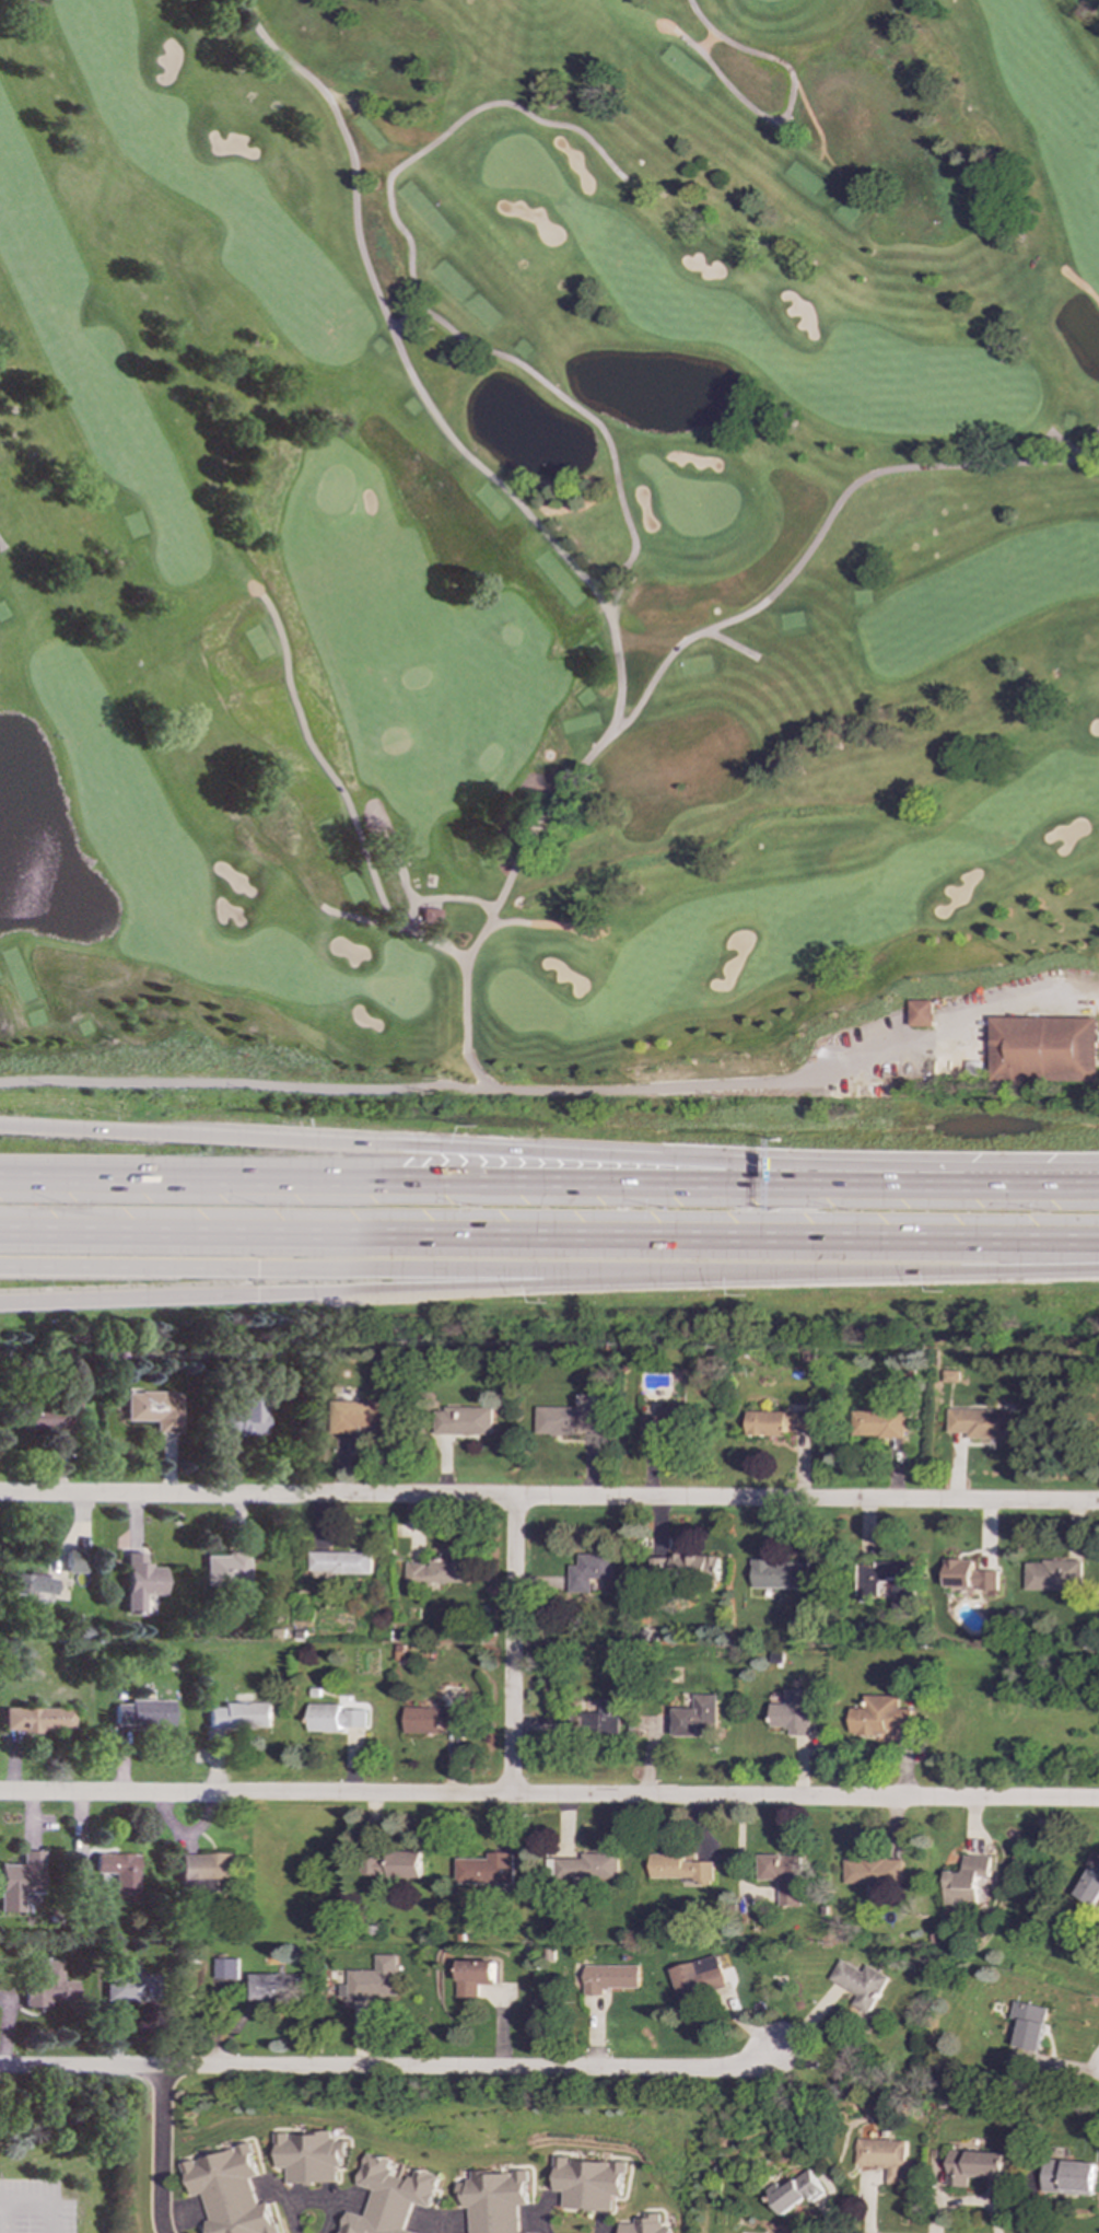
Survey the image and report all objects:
road: (369, 109)
road: (787, 109)
road: (413, 131)
road: (371, 152)
road: (1080, 287)
road: (418, 305)
road: (401, 316)
road: (411, 377)
road: (1064, 445)
road: (1, 543)
park: (549, 550)
road: (605, 577)
road: (647, 642)
road: (732, 644)
road: (671, 653)
road: (321, 758)
road: (402, 871)
road: (442, 896)
road: (335, 909)
building: (430, 914)
road: (536, 923)
building: (924, 1022)
road: (961, 1024)
building: (1048, 1057)
road: (428, 1091)
road: (402, 1150)
road: (402, 1177)
road: (882, 1178)
road: (1029, 1181)
road: (549, 1236)
road: (128, 1265)
traffic signals: (257, 1267)
road: (456, 1268)
road: (877, 1272)
road: (456, 1286)
traffic signals: (257, 1293)
road: (128, 1296)
building: (154, 1409)
building: (243, 1416)
building: (359, 1416)
building: (44, 1418)
building: (570, 1420)
building: (463, 1421)
building: (666, 1421)
building: (776, 1422)
building: (879, 1423)
building: (980, 1423)
road: (549, 1499)
building: (73, 1560)
building: (341, 1563)
building: (685, 1566)
building: (225, 1569)
building: (436, 1571)
building: (588, 1572)
building: (781, 1574)
building: (1051, 1574)
building: (970, 1577)
building: (141, 1581)
building: (28, 1586)
building: (868, 1589)
road: (512, 1647)
building: (143, 1712)
building: (794, 1712)
building: (239, 1716)
building: (698, 1717)
building: (334, 1718)
building: (37, 1719)
building: (603, 1719)
building: (881, 1719)
building: (431, 1720)
road: (549, 1795)
building: (396, 1865)
building: (588, 1868)
building: (486, 1870)
building: (680, 1870)
building: (206, 1872)
building: (119, 1873)
building: (874, 1873)
building: (783, 1877)
building: (20, 1880)
building: (1090, 1881)
building: (970, 1883)
building: (226, 1972)
building: (475, 1976)
building: (610, 1978)
building: (700, 1978)
building: (372, 1981)
building: (862, 1984)
building: (47, 1986)
building: (274, 1987)
building: (1029, 2025)
road: (390, 2068)
road: (159, 2150)
building: (305, 2158)
building: (882, 2158)
building: (974, 2167)
building: (1068, 2178)
building: (576, 2184)
building: (226, 2191)
building: (792, 2191)
building: (383, 2198)
building: (483, 2200)
road: (38, 2201)
building: (632, 2225)
road: (533, 2231)

